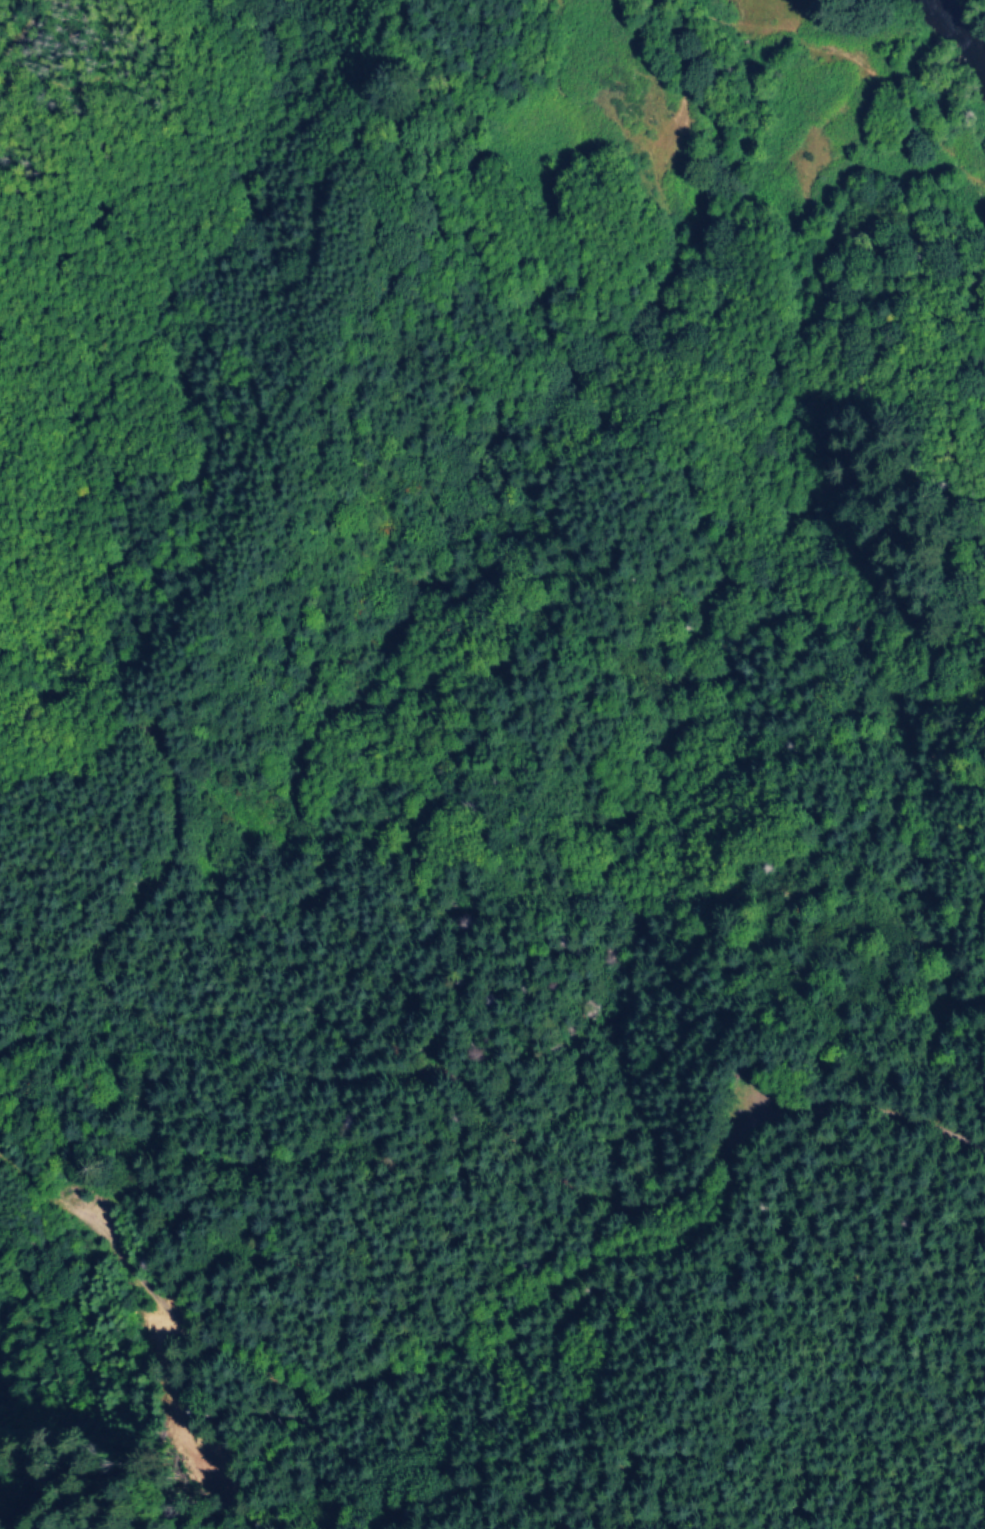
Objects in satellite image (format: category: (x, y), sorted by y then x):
road: (25, 30)
river: (957, 34)
road: (367, 1079)

